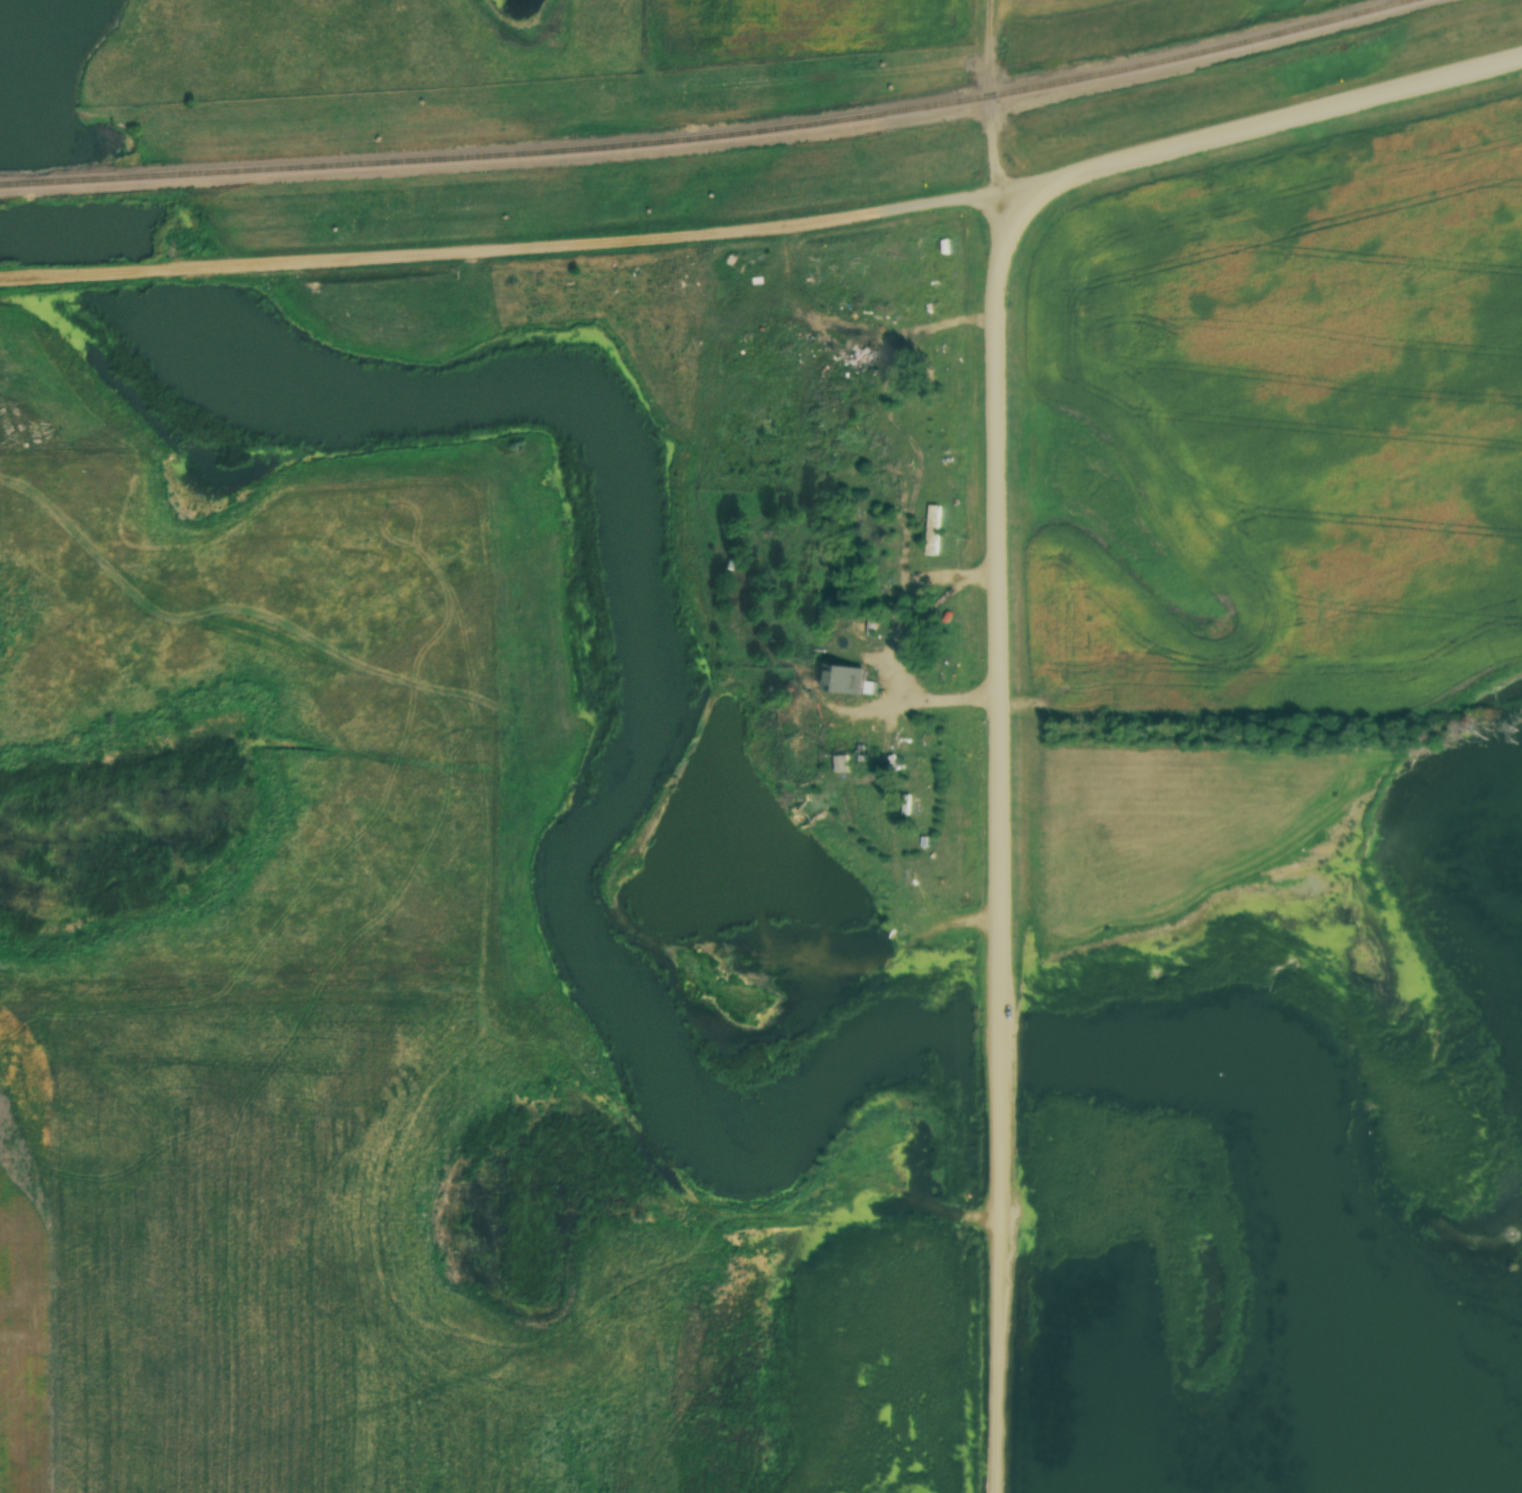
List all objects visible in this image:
road: (1261, 120)
railway: (709, 134)
road: (502, 251)
road: (856, 314)
road: (897, 437)
road: (897, 645)
building: (845, 678)
road: (1005, 743)

